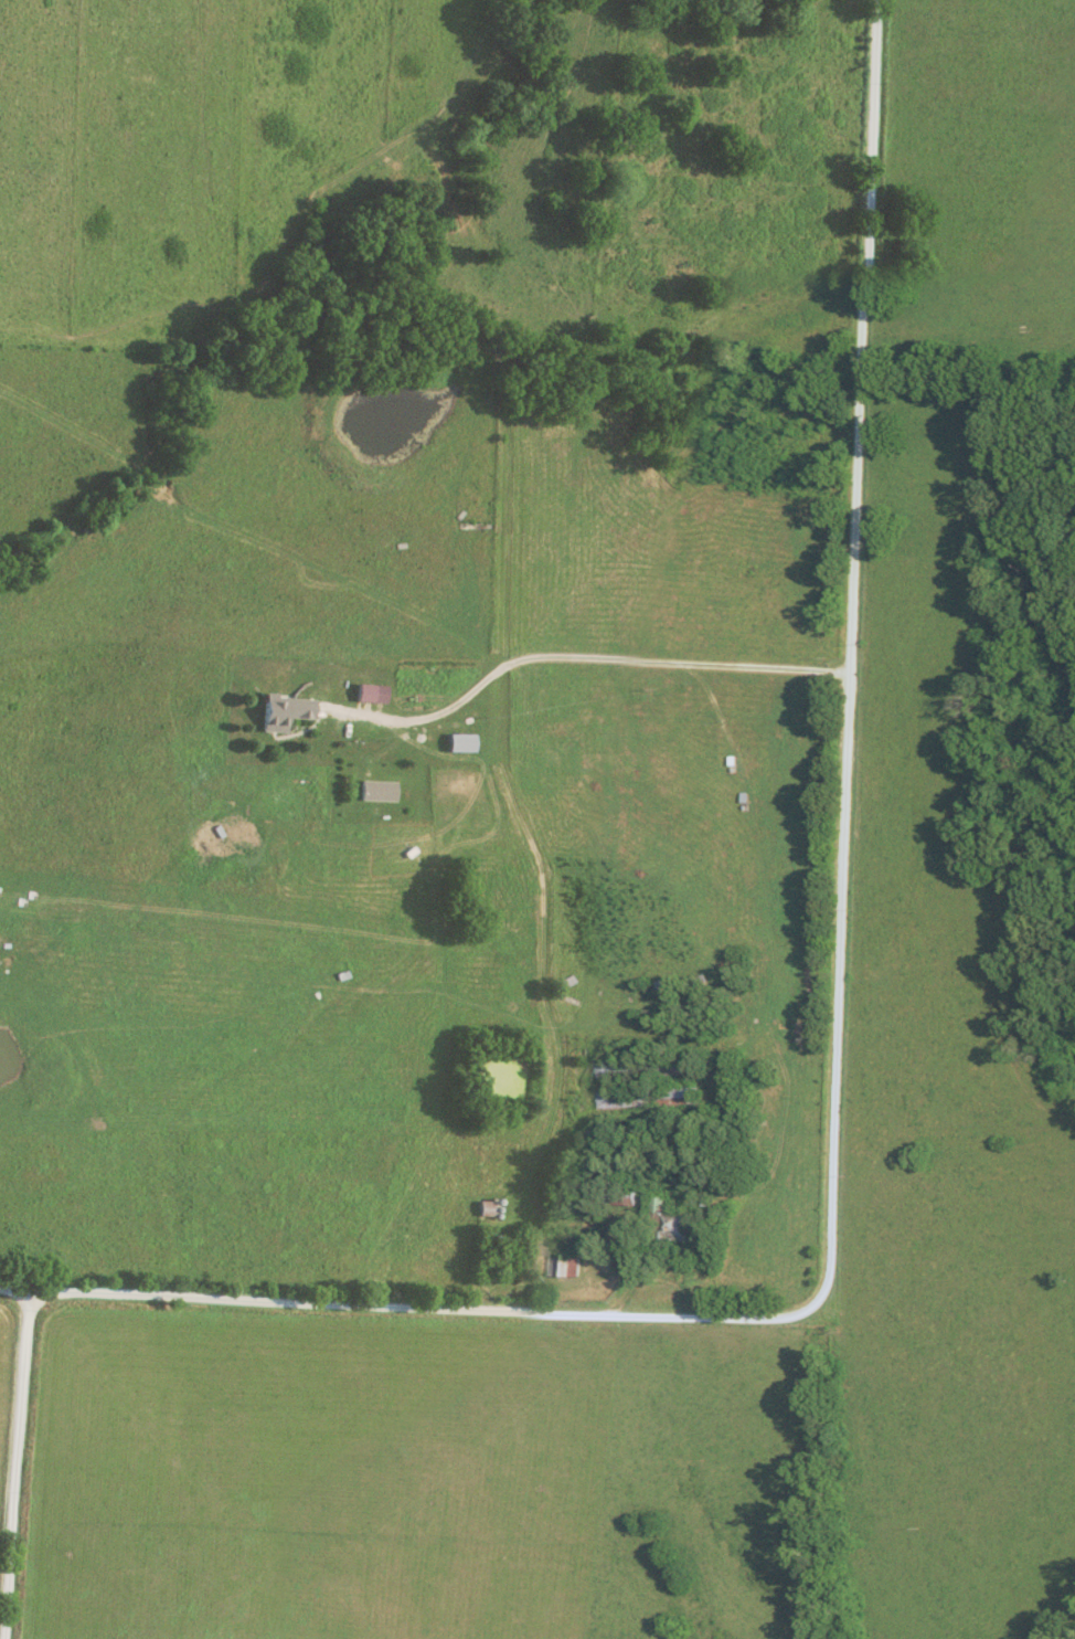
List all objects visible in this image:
road: (586, 665)
building: (374, 694)
building: (288, 712)
building: (466, 743)
road: (833, 1059)
building: (651, 1066)
building: (652, 1096)
building: (487, 1209)
building: (673, 1216)
building: (570, 1266)
road: (503, 1288)
road: (11, 1464)

